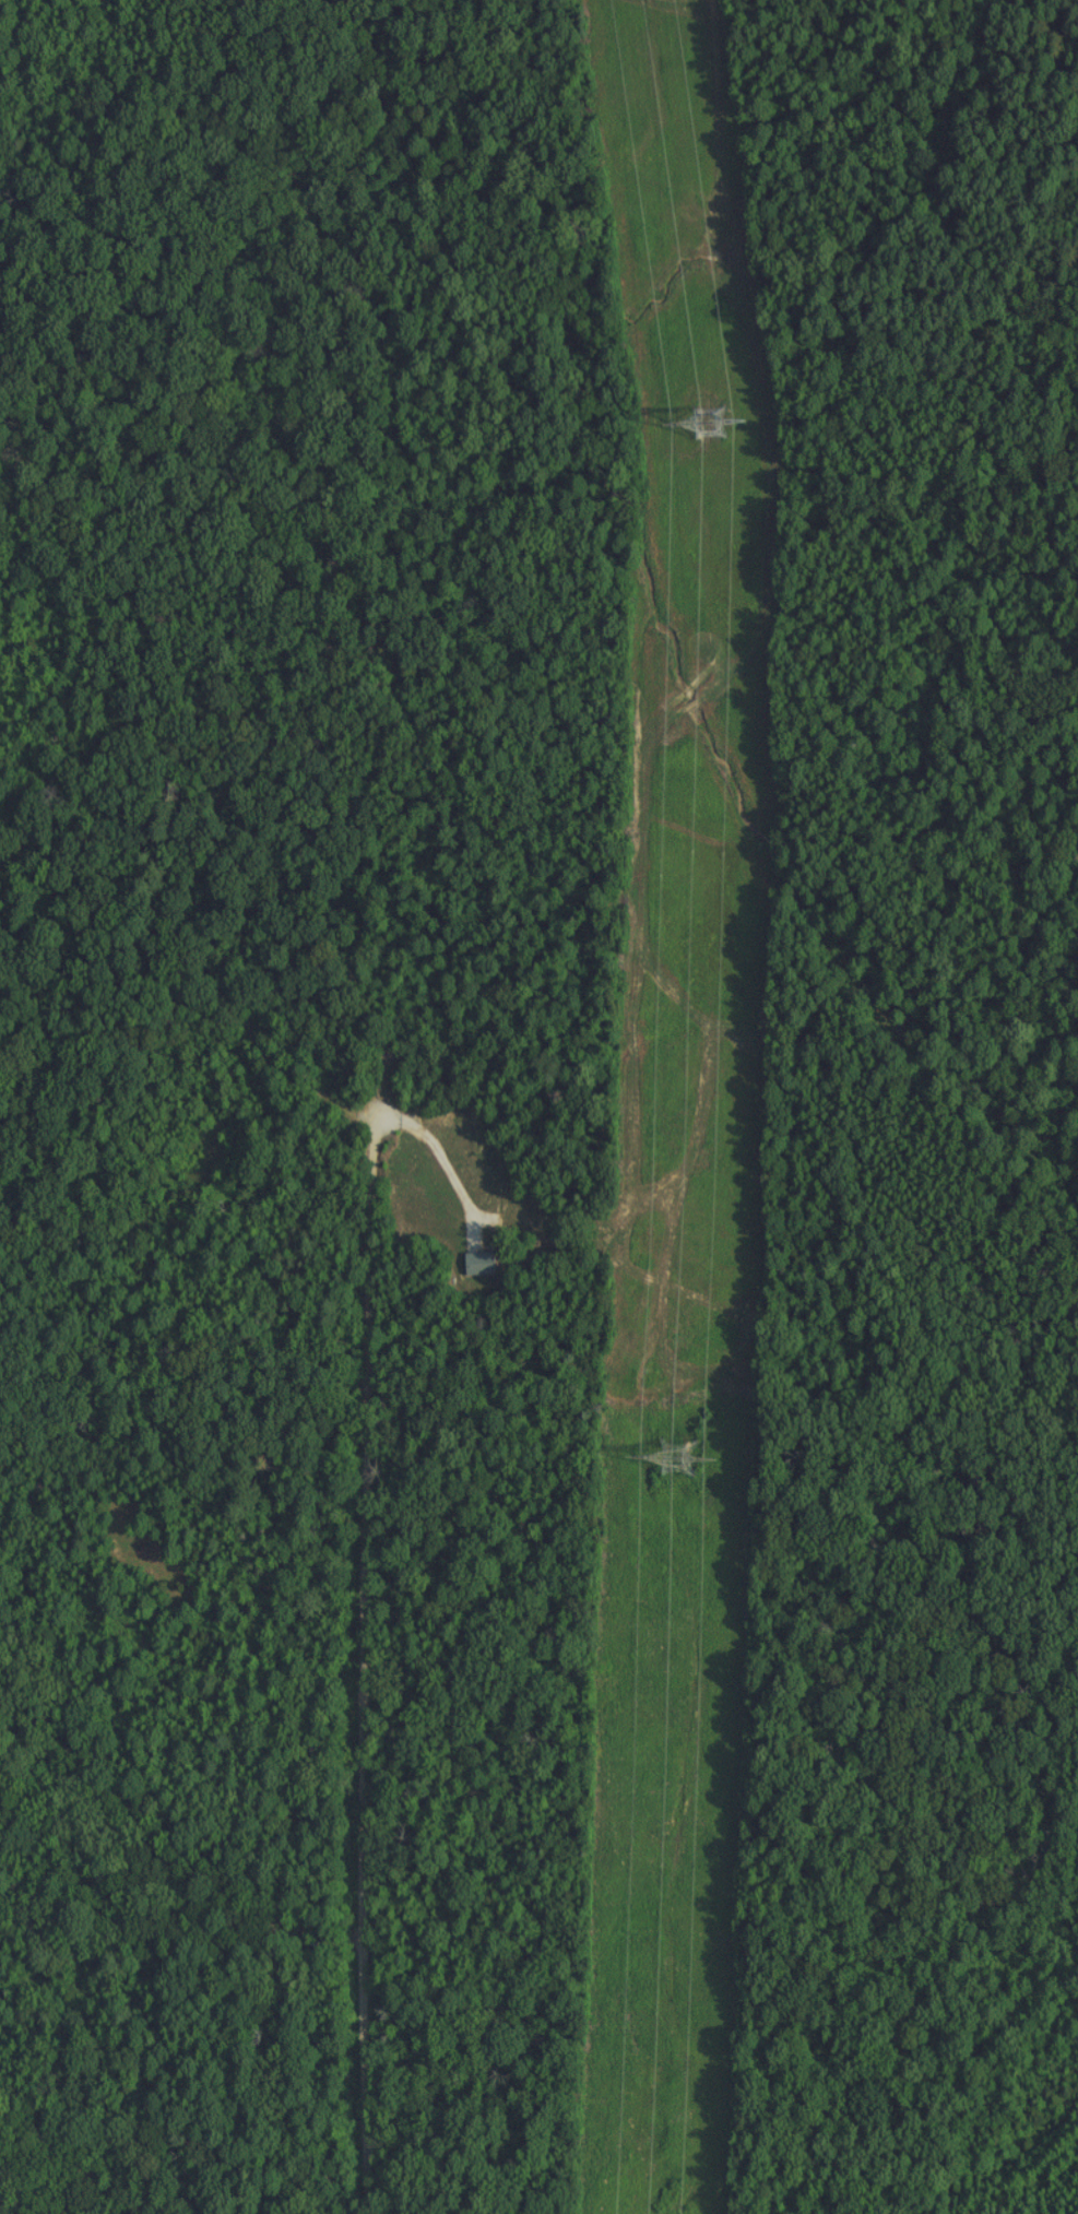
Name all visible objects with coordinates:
power tower: (710, 423)
road: (438, 1150)
building: (477, 1263)
power tower: (680, 1456)
road: (363, 1588)

